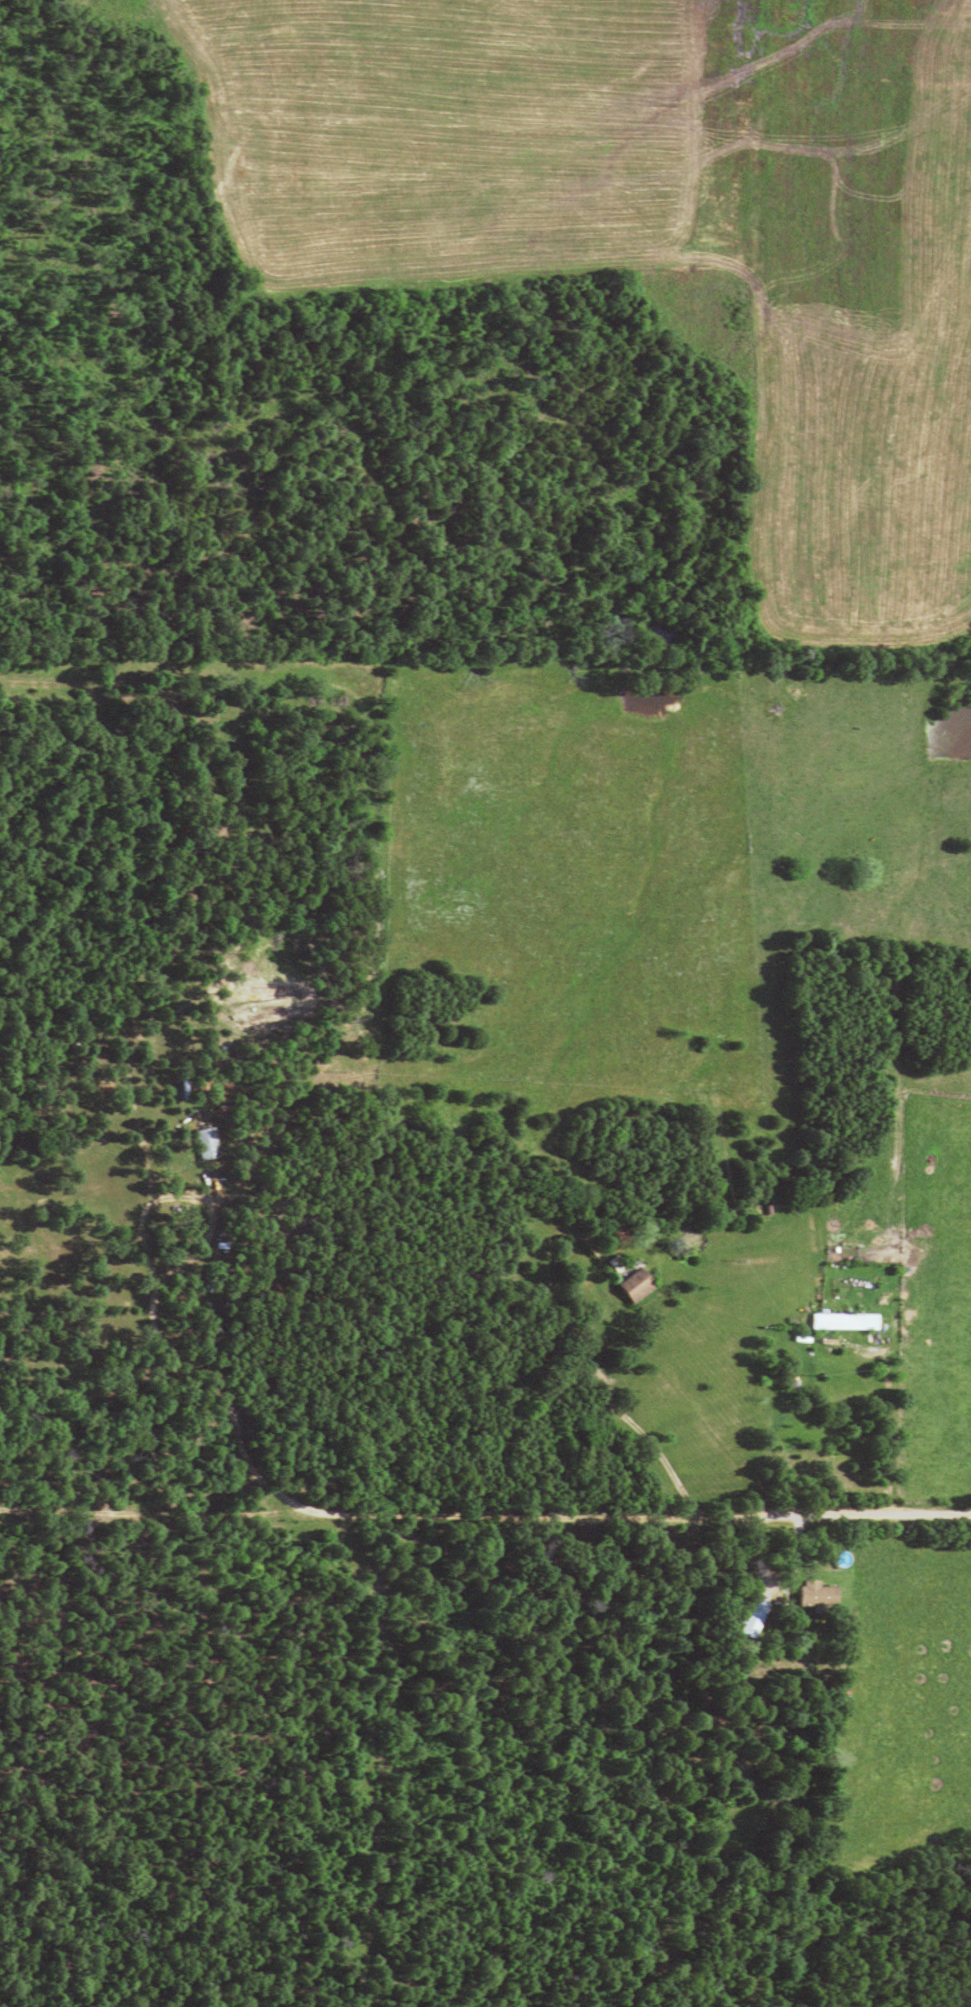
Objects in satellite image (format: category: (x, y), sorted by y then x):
building: (204, 1149)
building: (612, 1266)
building: (627, 1289)
building: (838, 1325)
road: (886, 1513)
building: (812, 1599)
building: (749, 1622)

